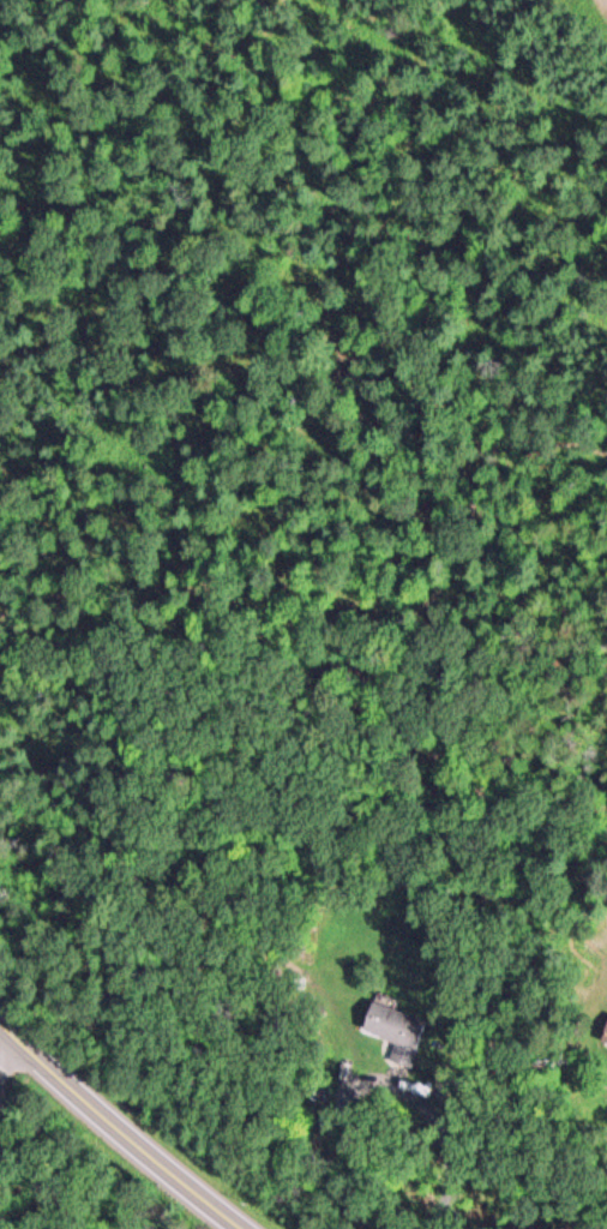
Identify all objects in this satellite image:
building: (396, 1026)
building: (603, 1031)
road: (2, 1053)
road: (126, 1129)

